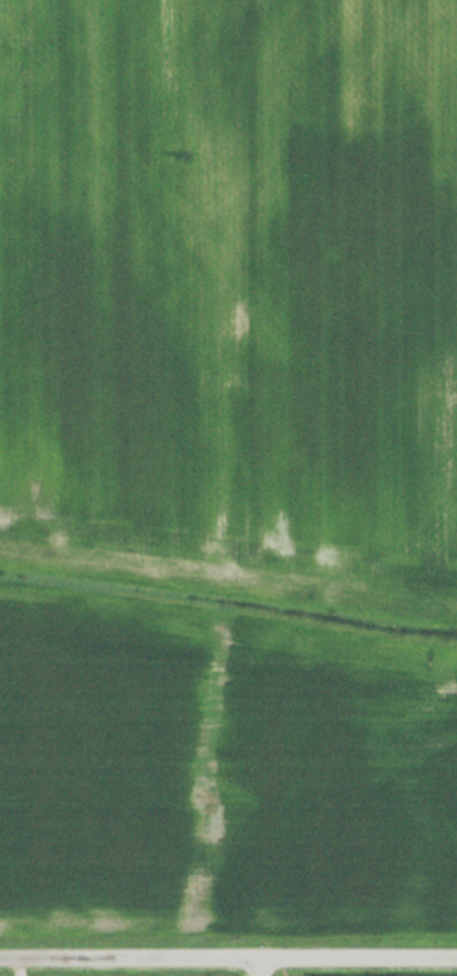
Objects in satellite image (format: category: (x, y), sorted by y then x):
road: (228, 961)
road: (257, 969)

